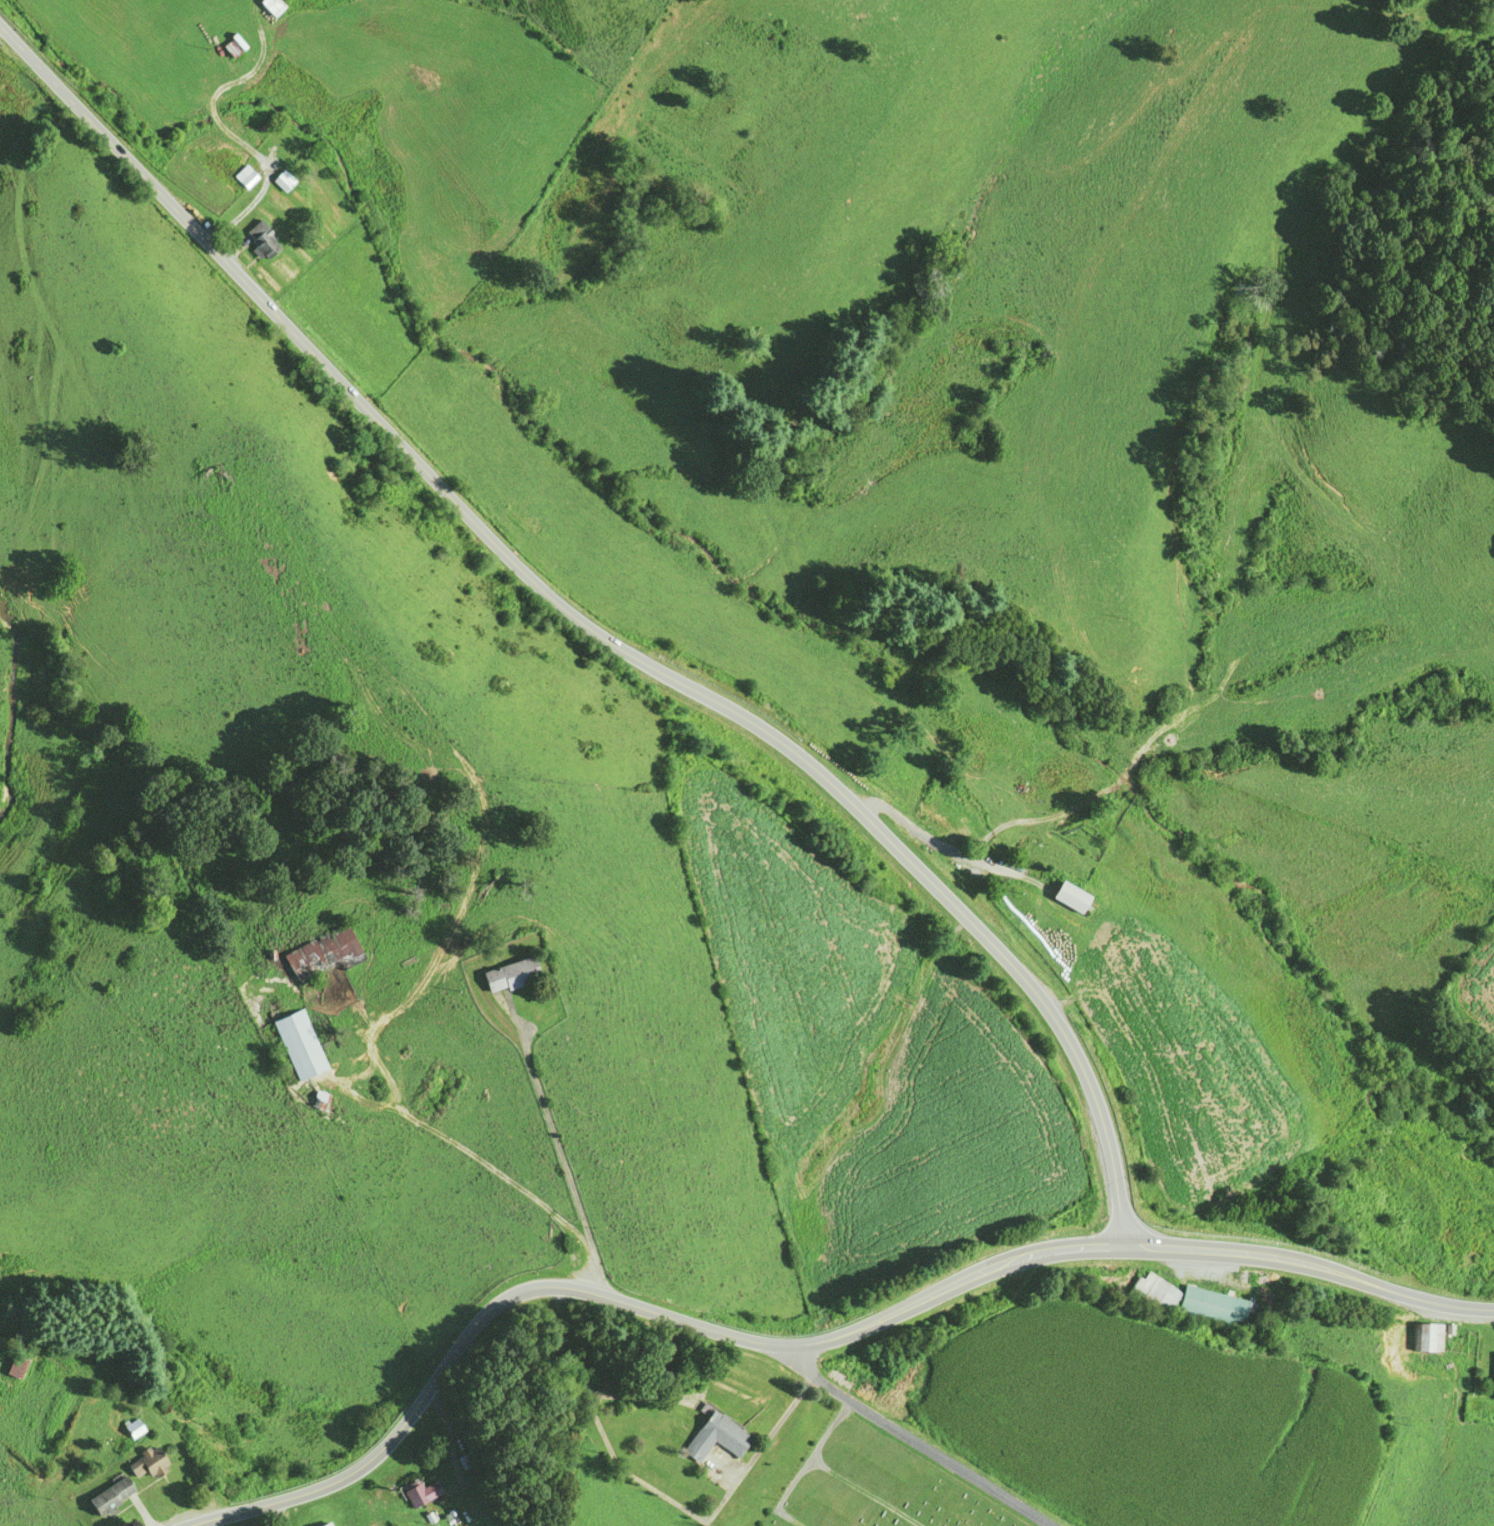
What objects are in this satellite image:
building: (269, 5)
building: (241, 174)
building: (279, 179)
building: (259, 239)
road: (589, 627)
building: (949, 805)
building: (1069, 896)
building: (321, 954)
building: (511, 973)
building: (296, 1043)
road: (1280, 1257)
building: (1149, 1294)
road: (617, 1299)
building: (1212, 1306)
road: (1464, 1306)
building: (1424, 1335)
building: (1492, 1361)
building: (15, 1364)
building: (131, 1427)
building: (716, 1435)
road: (910, 1443)
building: (462, 1459)
building: (147, 1462)
building: (419, 1491)
building: (109, 1494)
building: (324, 1524)

